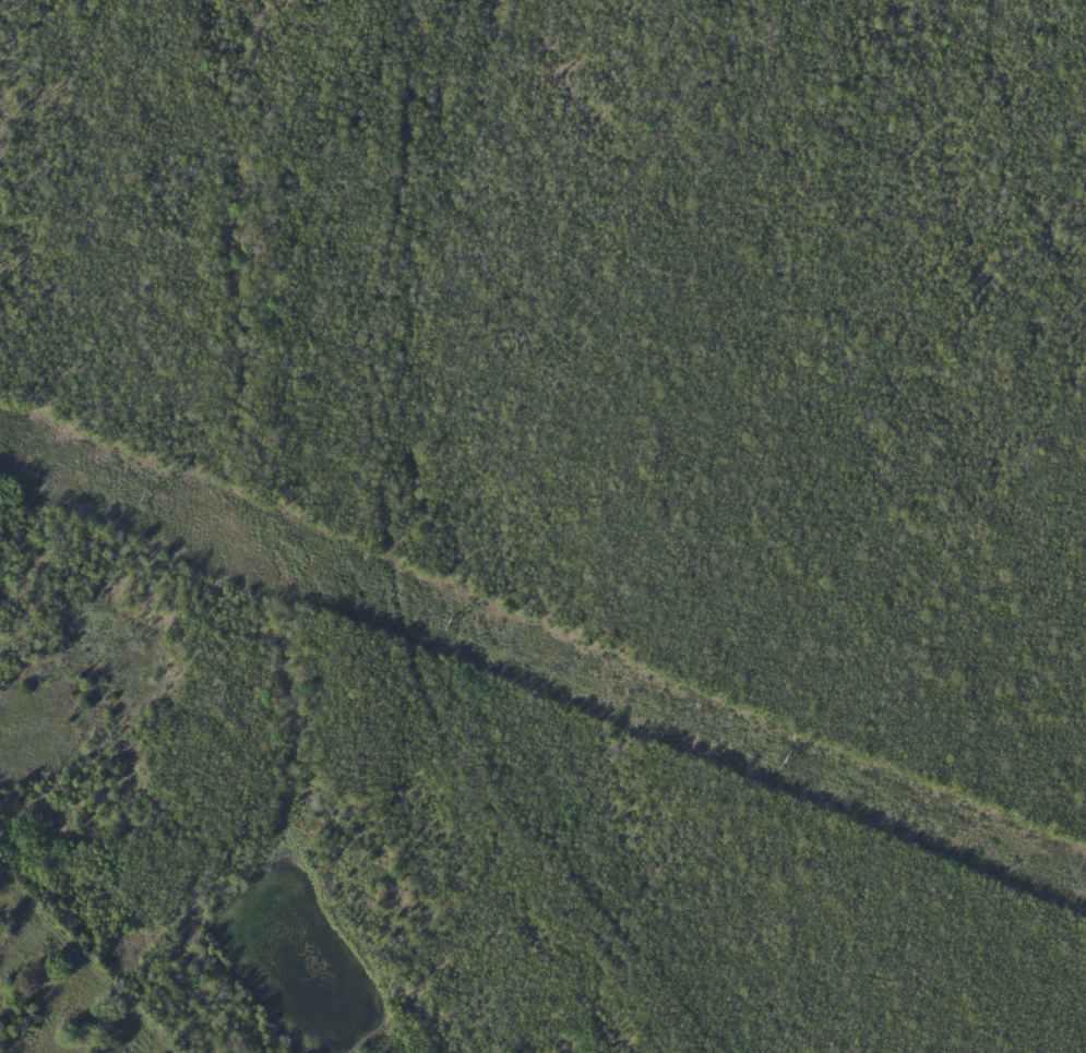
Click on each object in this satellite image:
power tower: (145, 496)
power tower: (455, 625)
power tower: (785, 762)

